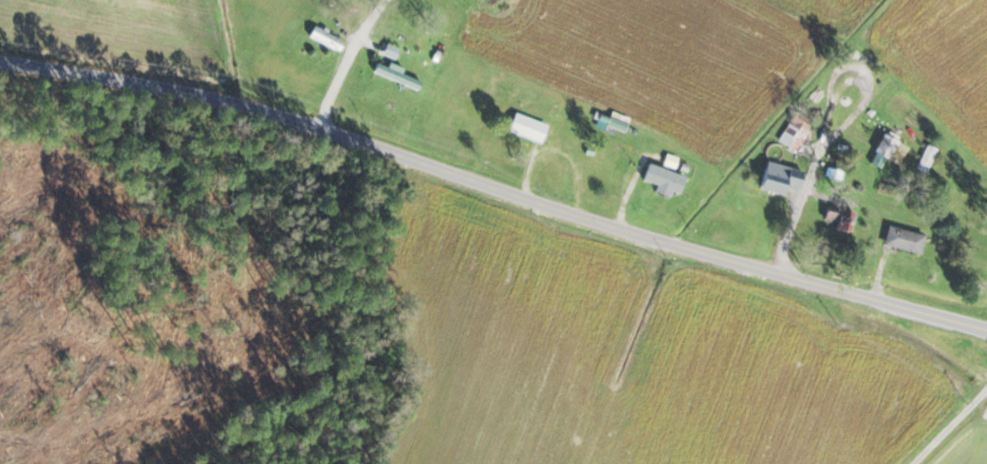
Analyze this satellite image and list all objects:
building: (325, 38)
building: (397, 75)
building: (527, 127)
building: (796, 131)
building: (926, 158)
building: (779, 177)
building: (663, 180)
road: (495, 187)
building: (837, 218)
building: (903, 240)

